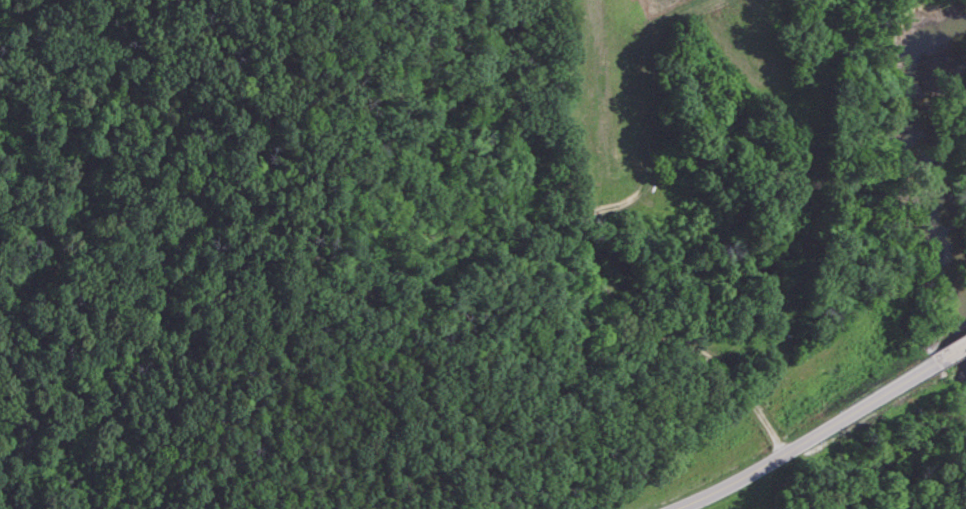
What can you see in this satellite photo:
road: (824, 430)

